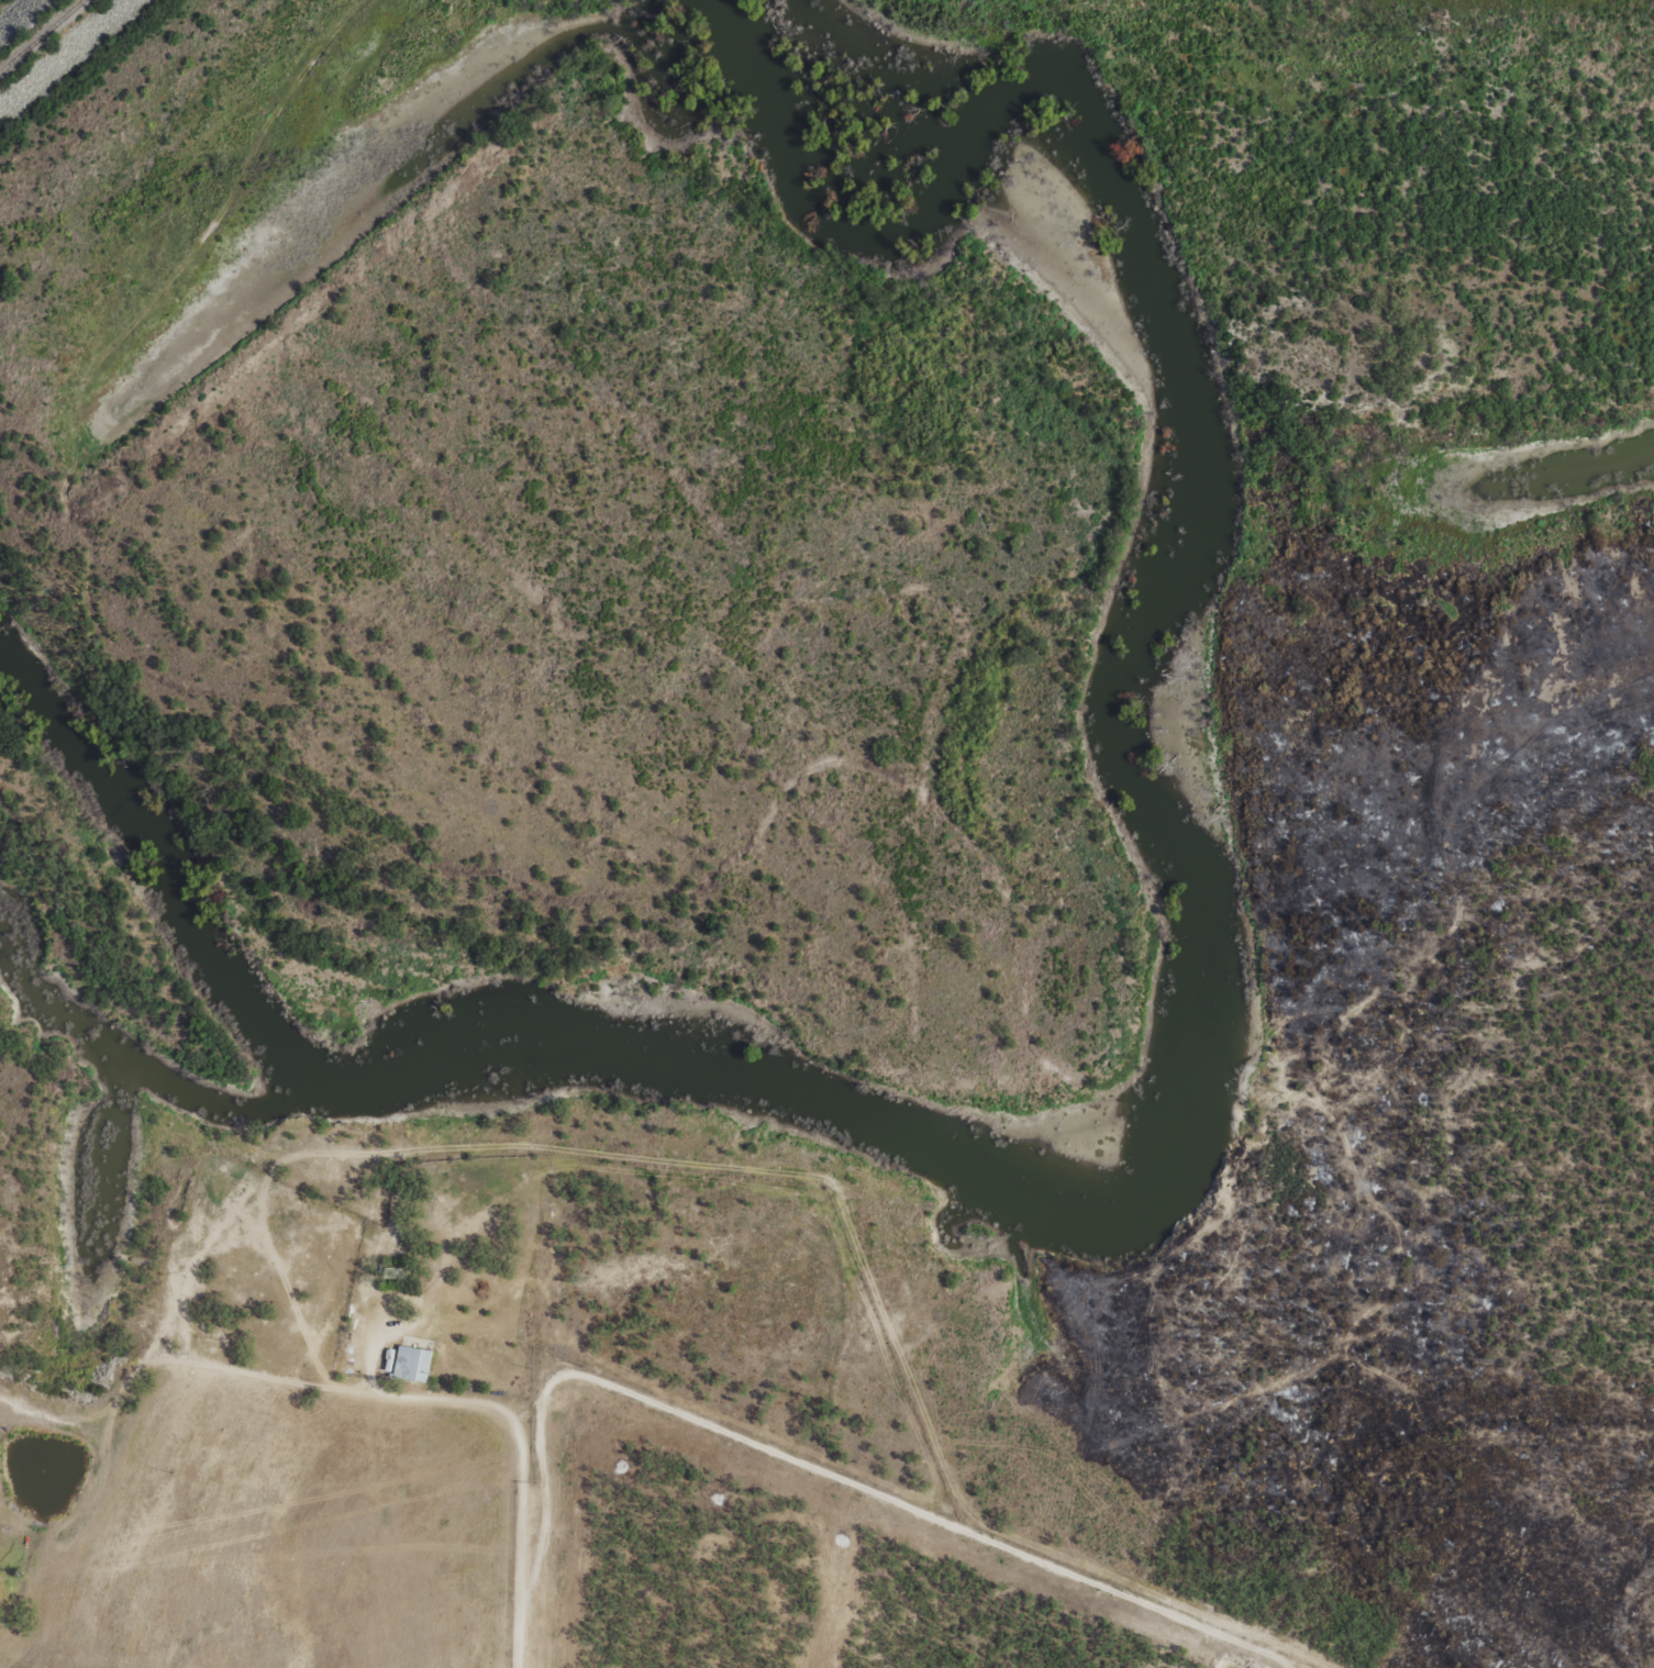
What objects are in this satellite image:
railway: (42, 36)
river: (1209, 1028)
road: (365, 1393)

